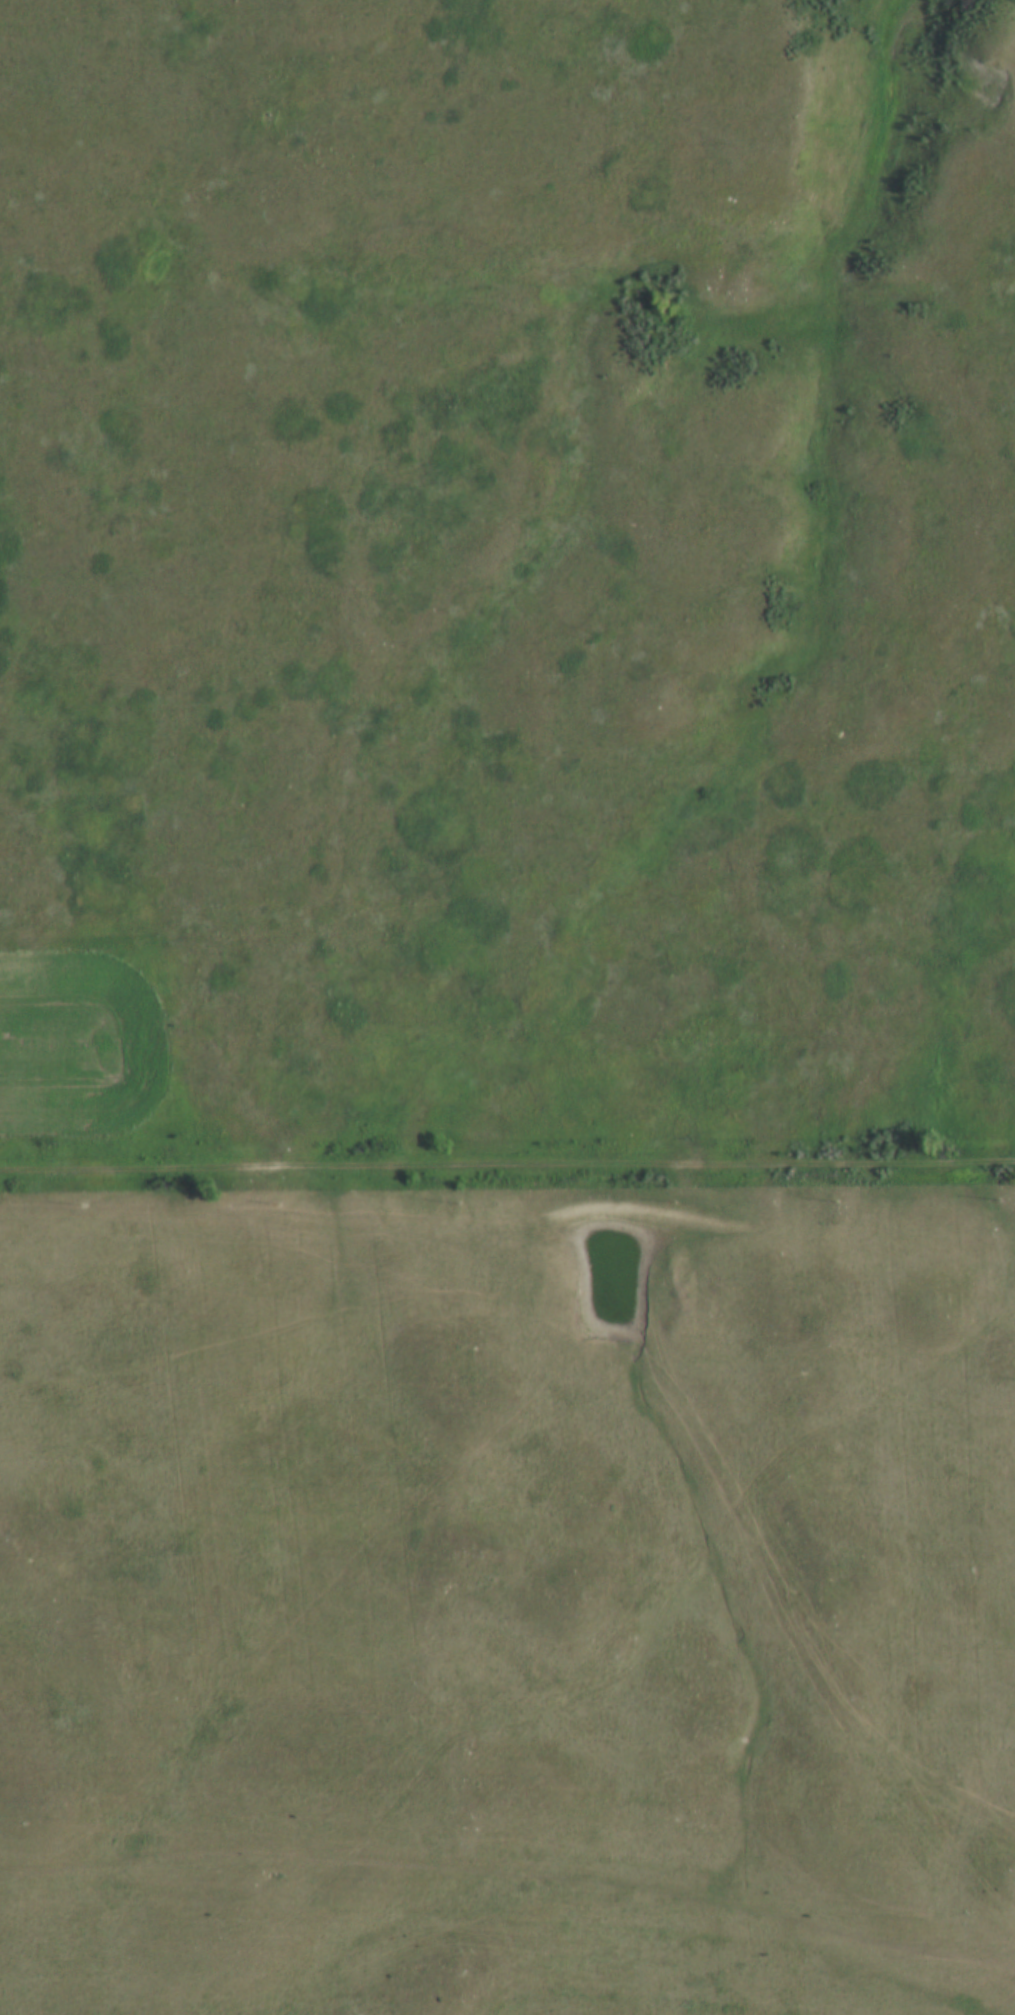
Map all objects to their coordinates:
road: (507, 1165)

